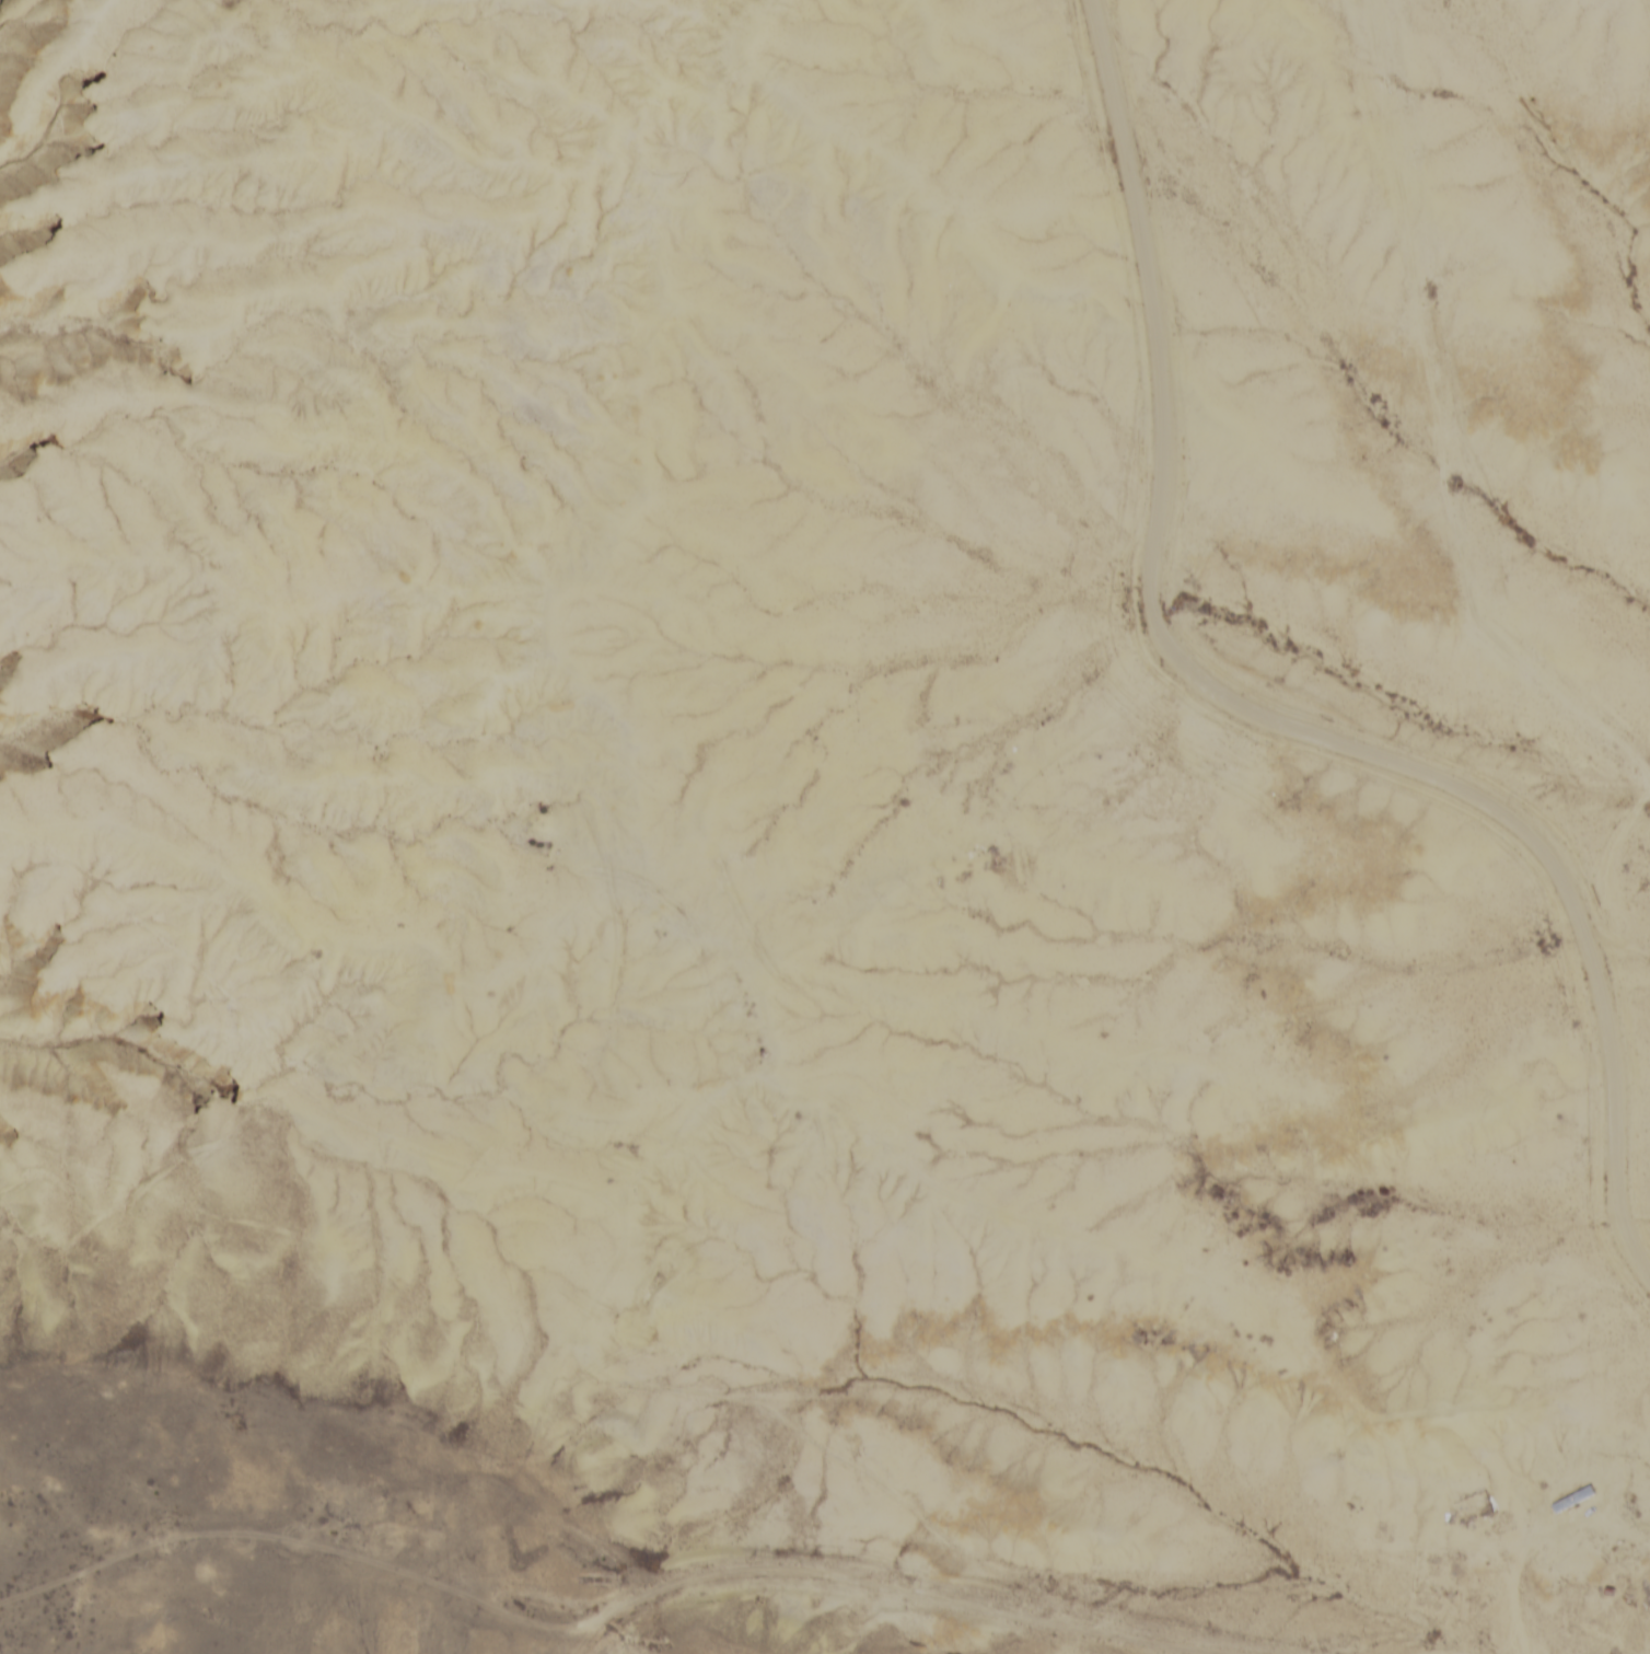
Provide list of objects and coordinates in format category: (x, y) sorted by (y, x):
road: (1134, 4)
road: (1262, 706)
building: (1484, 1593)

